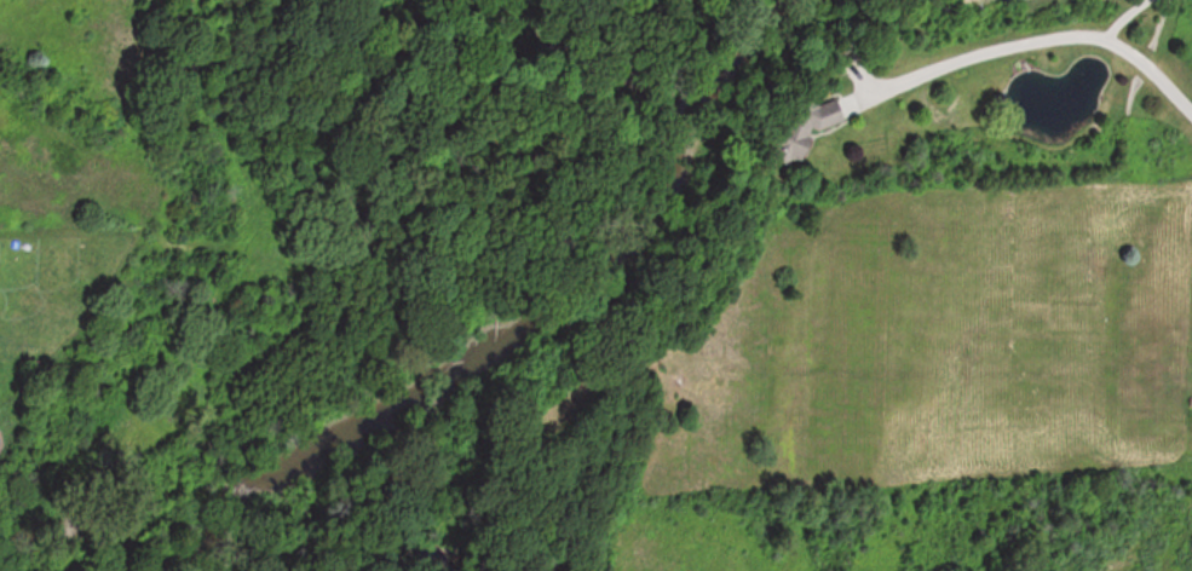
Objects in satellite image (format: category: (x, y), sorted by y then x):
road: (1112, 13)
road: (1052, 35)
building: (807, 129)

